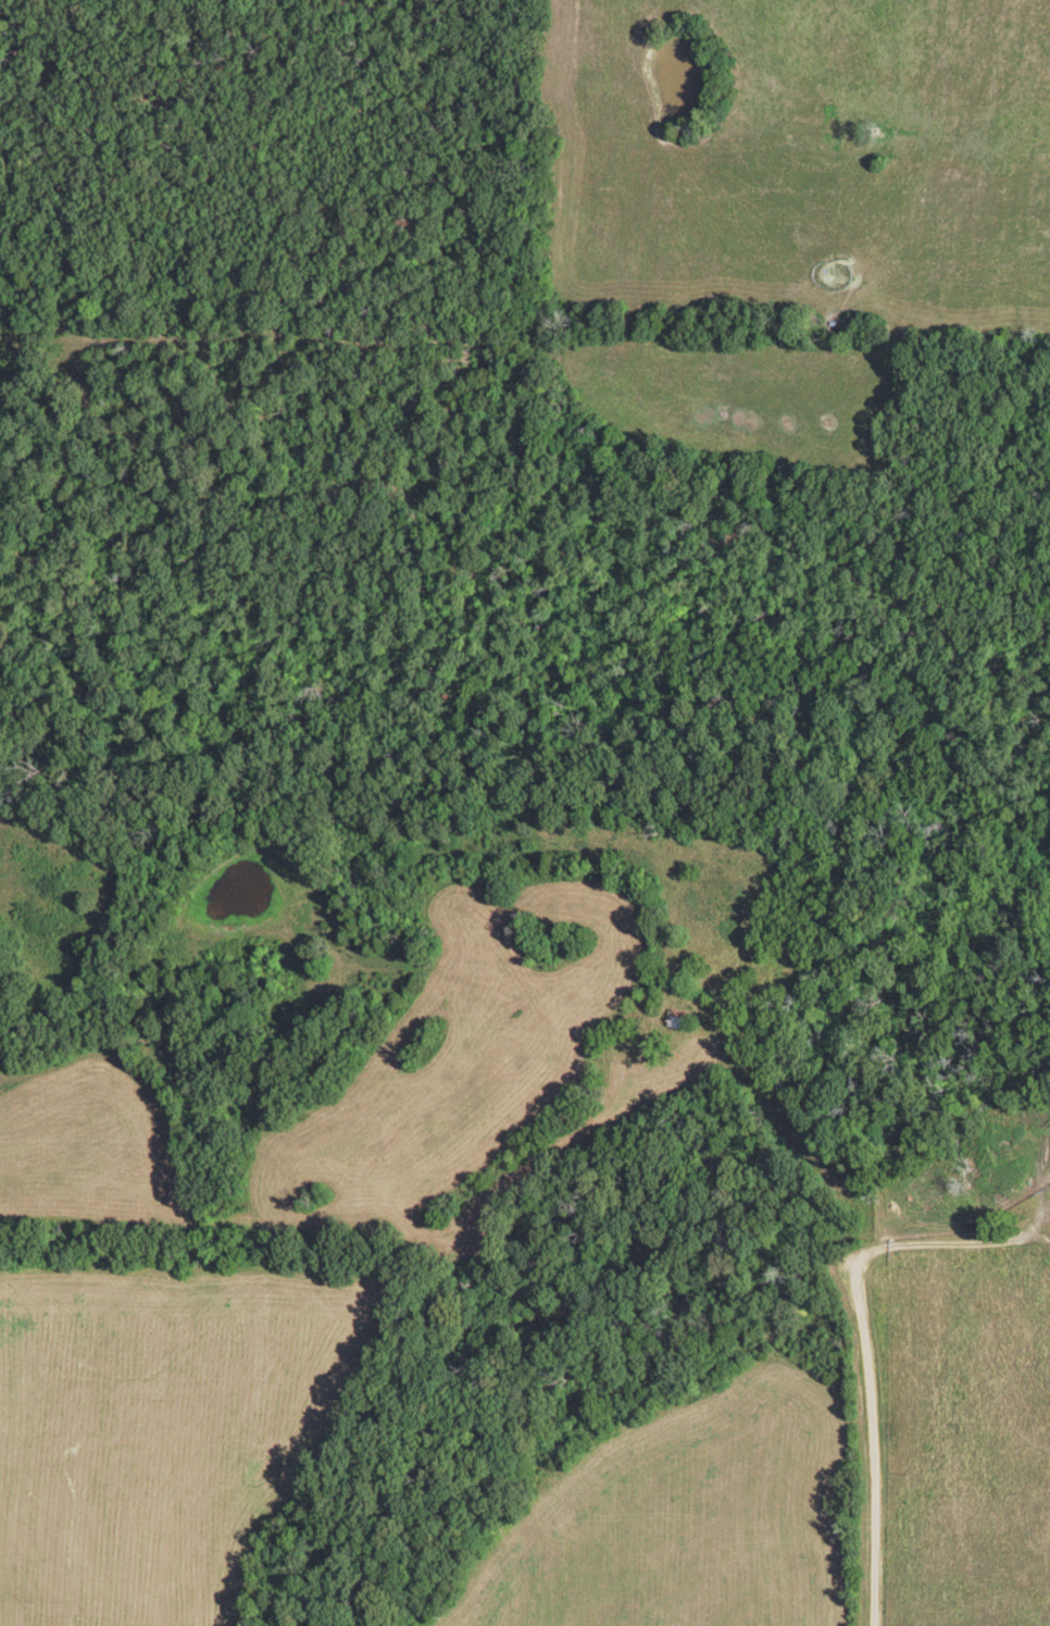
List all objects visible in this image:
road: (866, 1344)

